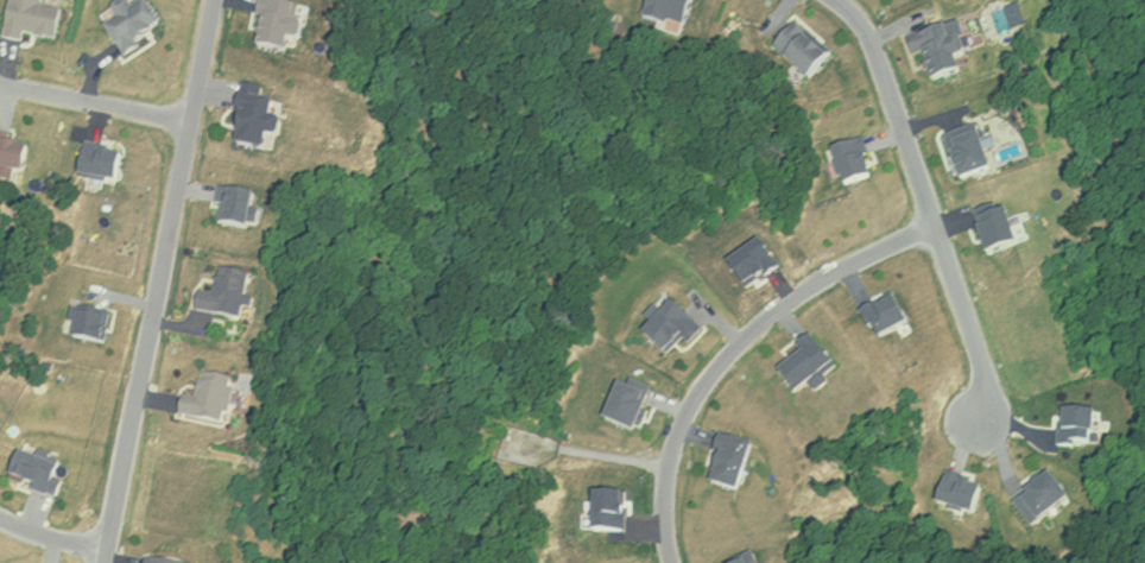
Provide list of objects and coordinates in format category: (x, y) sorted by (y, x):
road: (94, 103)
road: (926, 205)
road: (157, 281)
road: (735, 343)
road: (52, 532)

